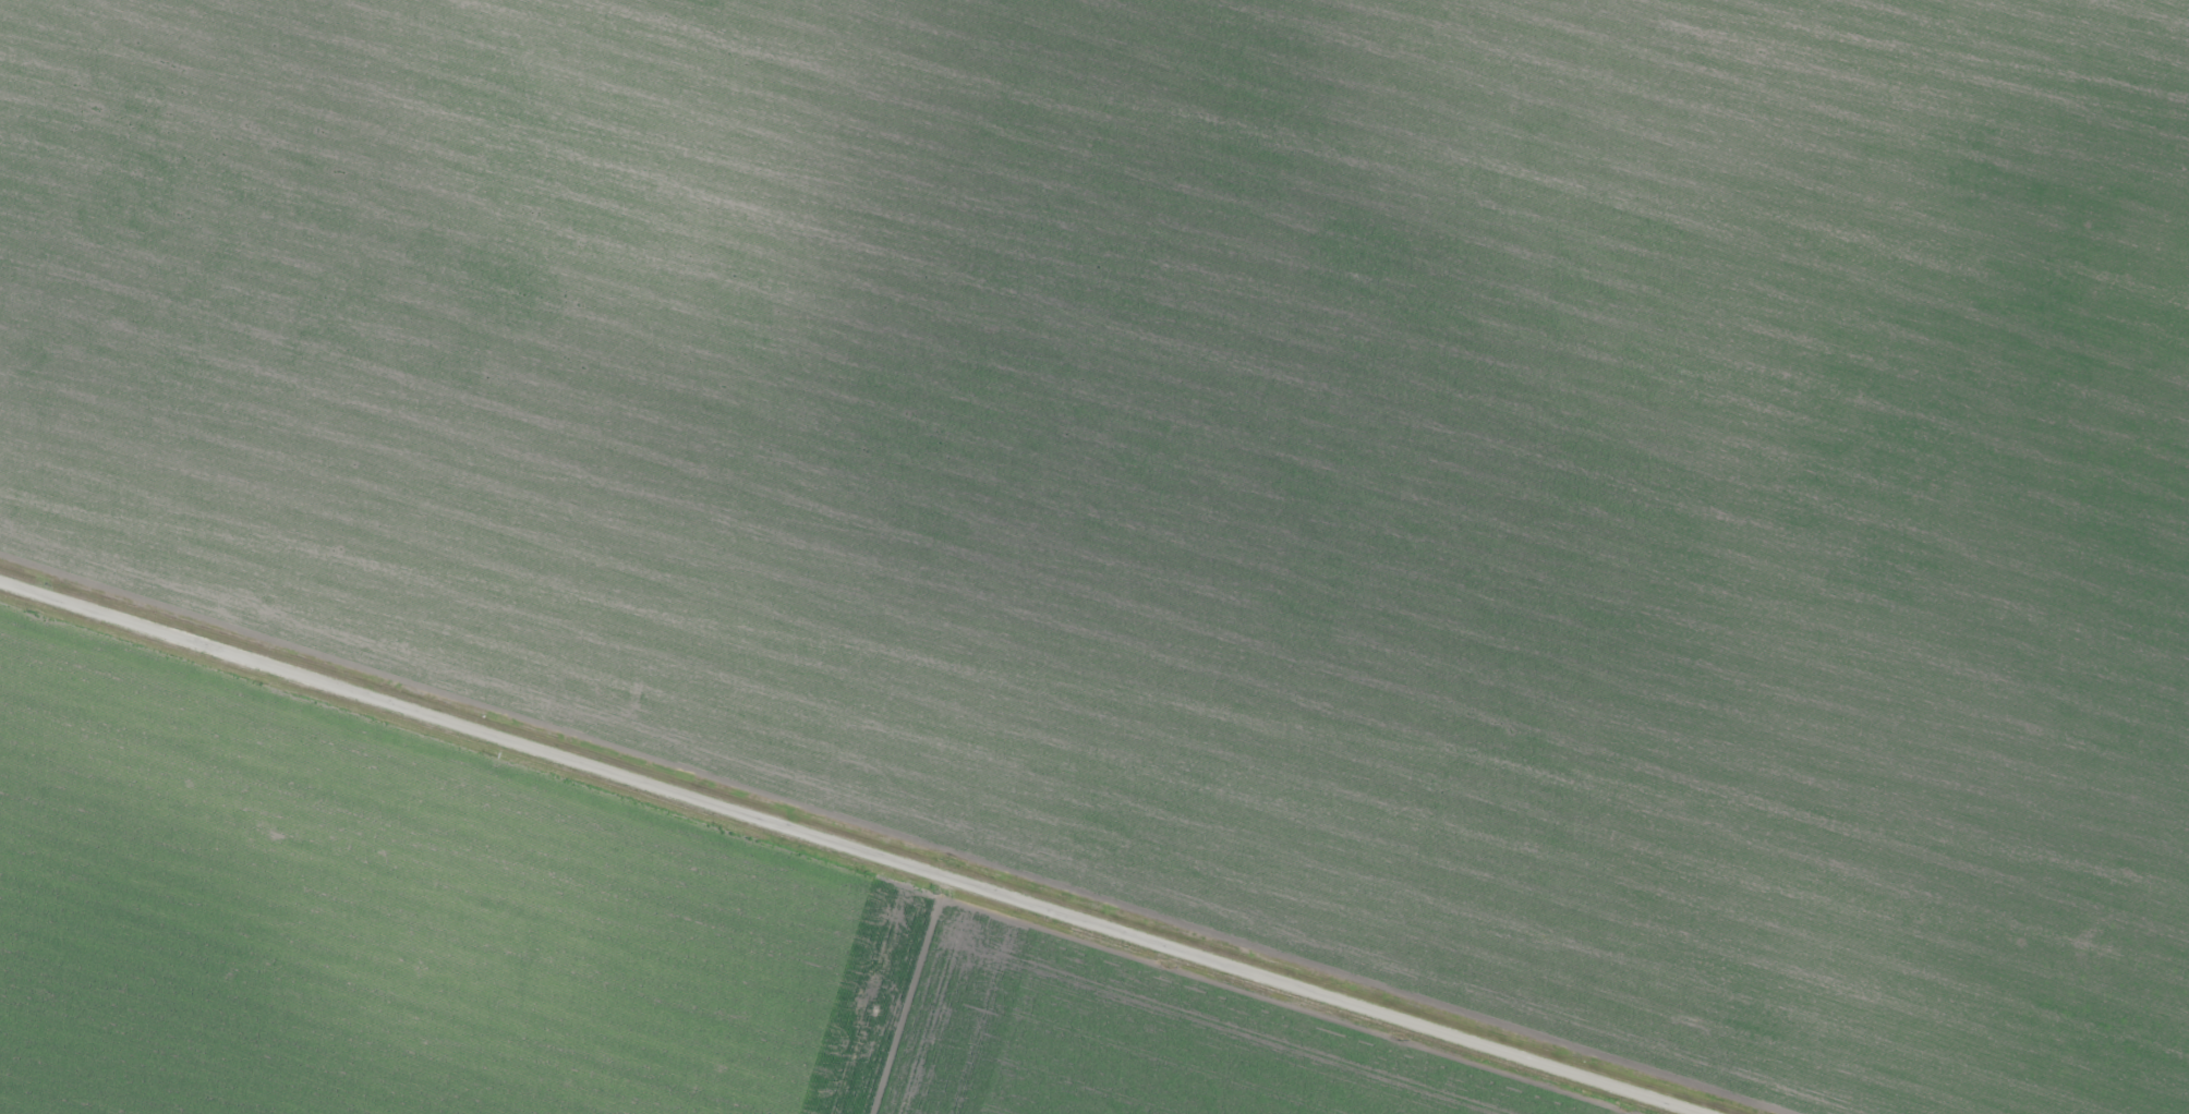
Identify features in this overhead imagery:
road: (858, 847)

